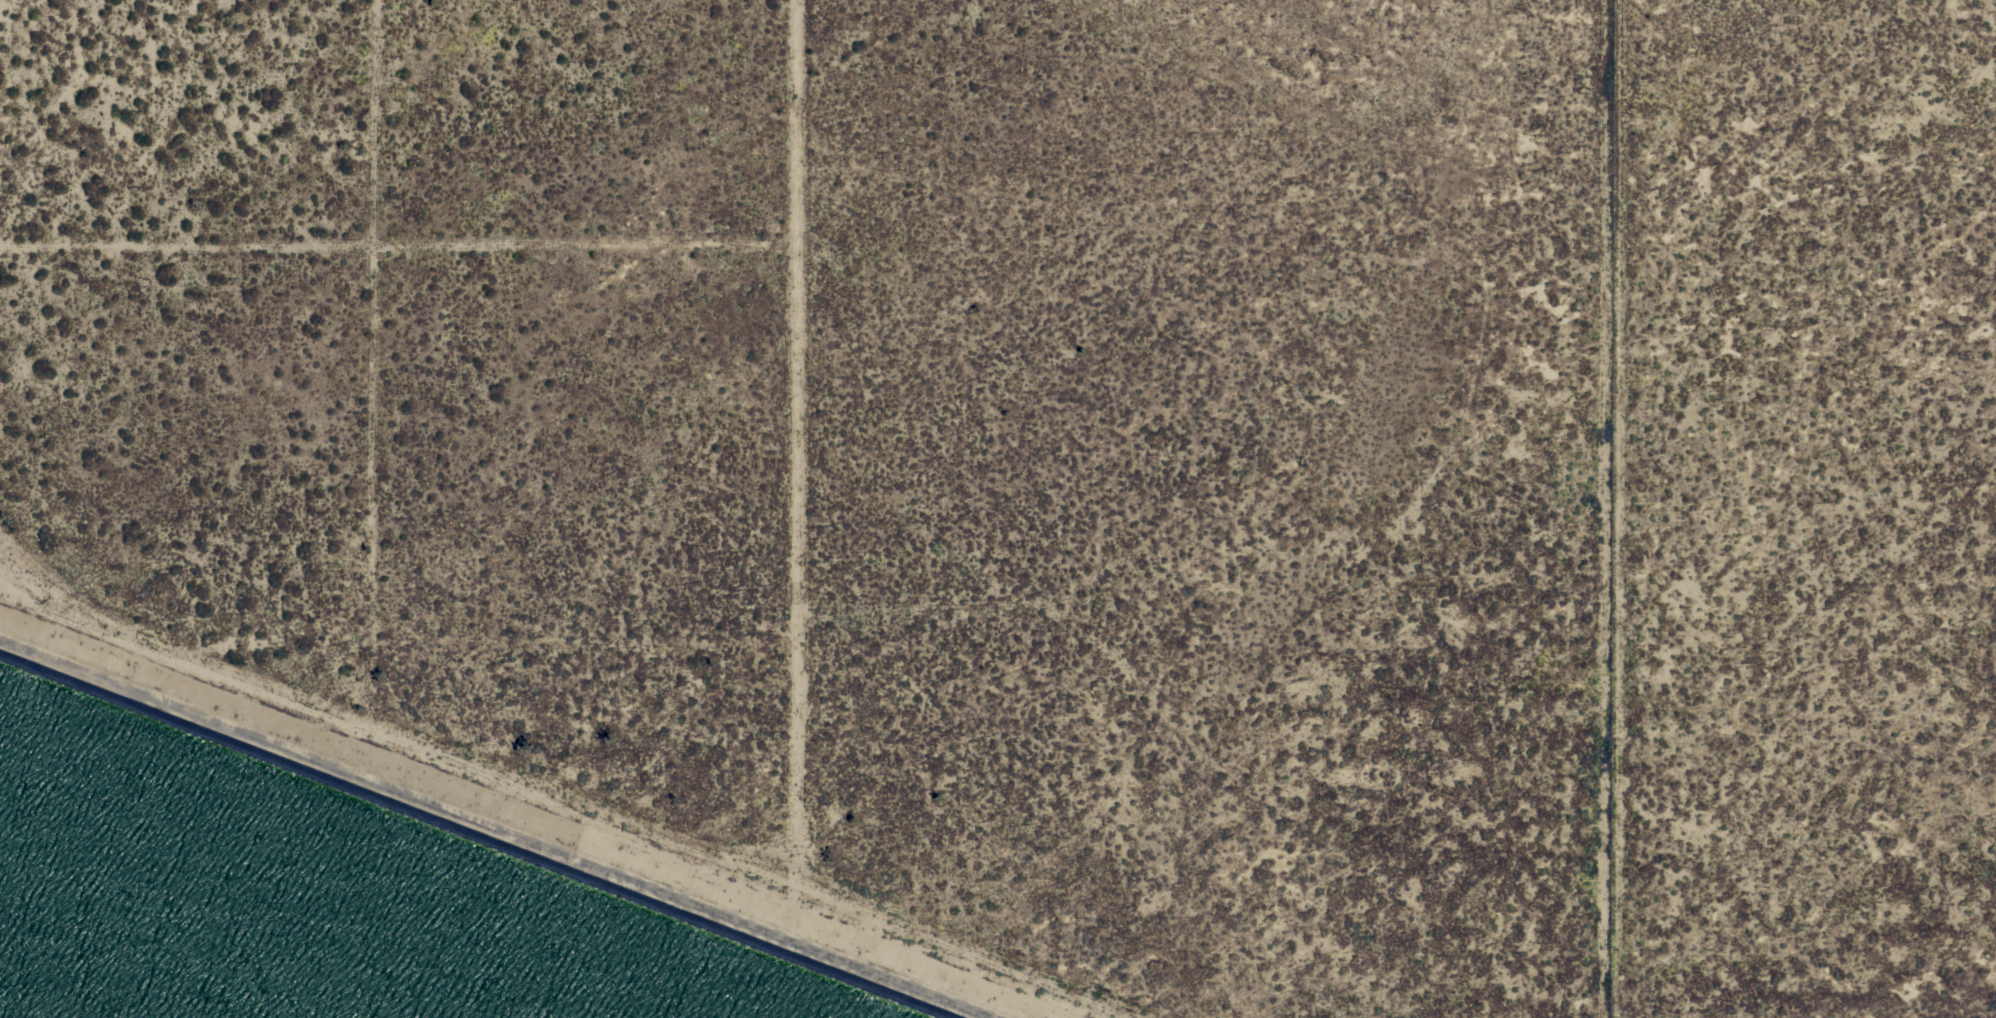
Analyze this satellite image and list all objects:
wastewater plant: (361, 880)

